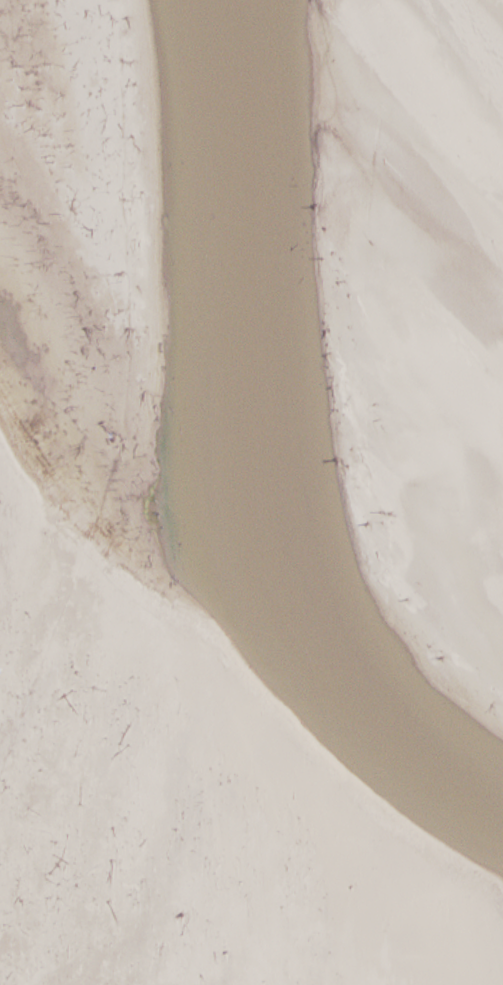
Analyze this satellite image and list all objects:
river: (252, 456)

